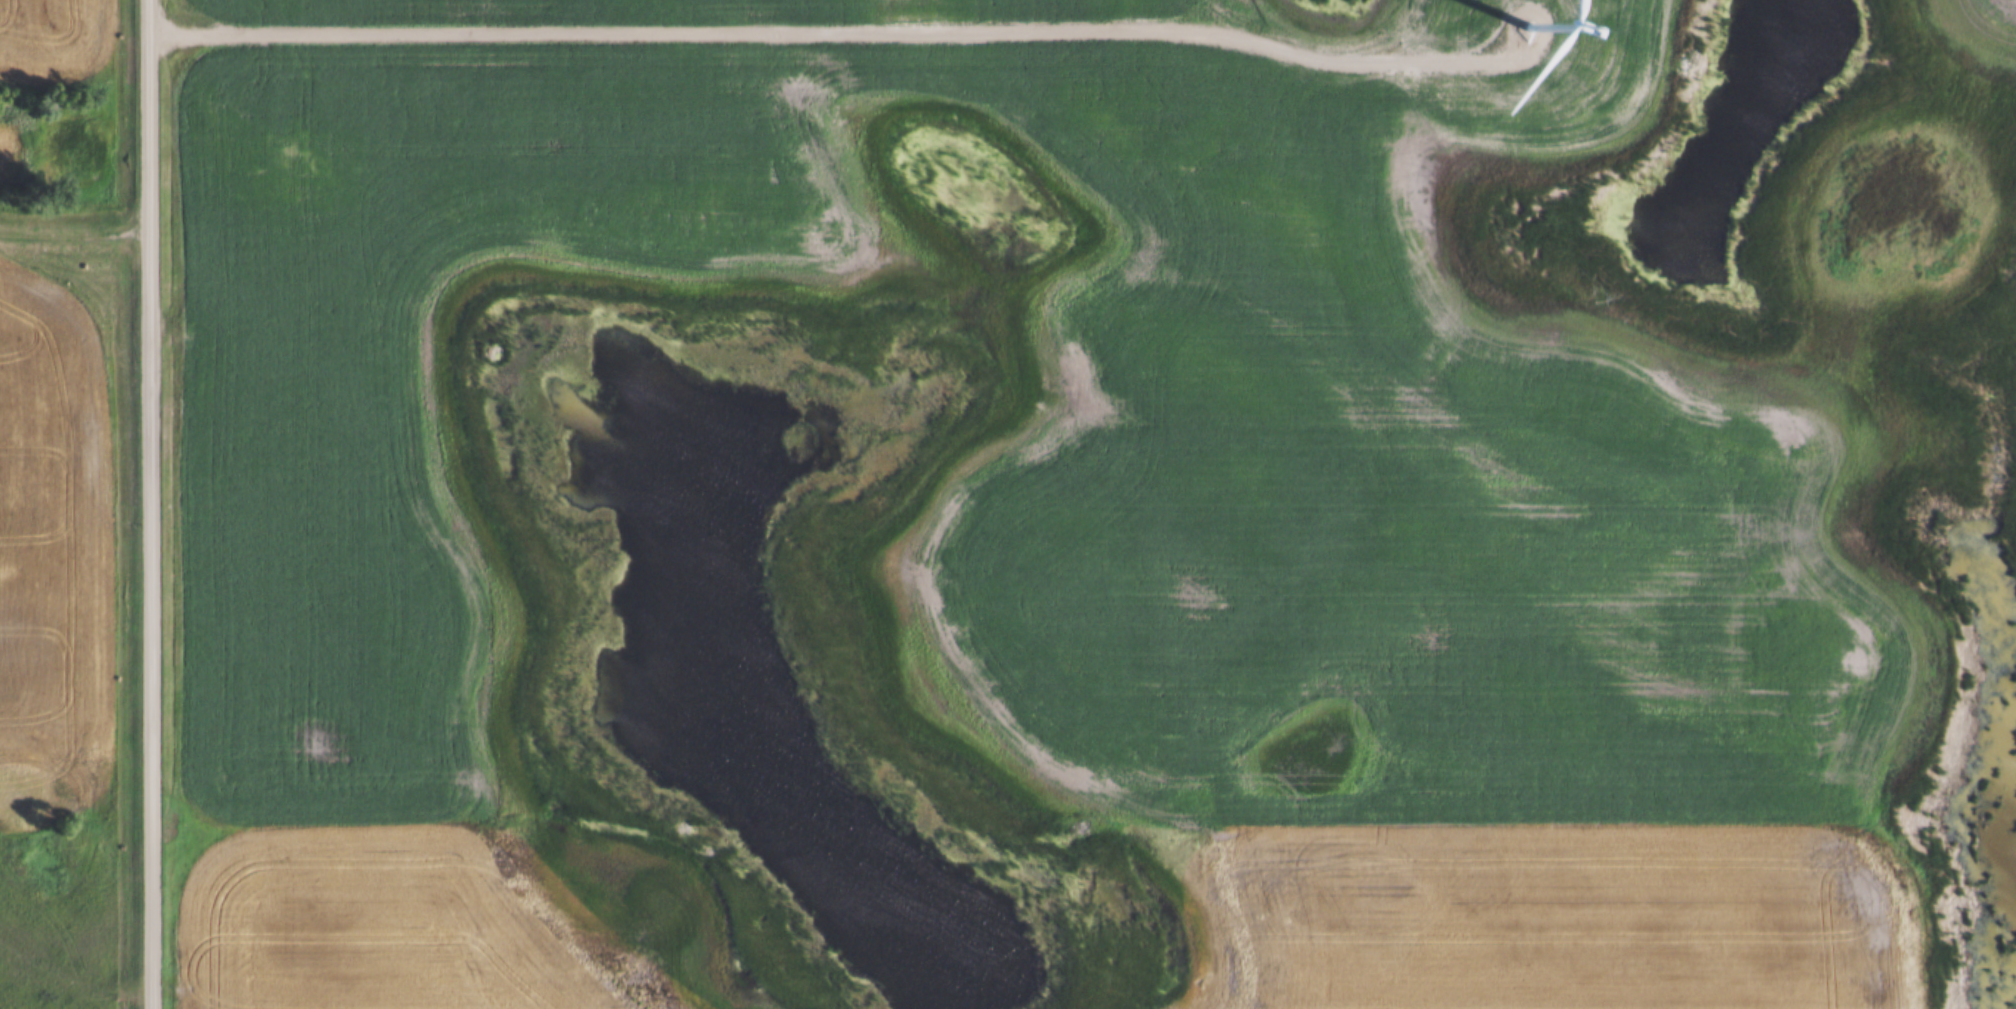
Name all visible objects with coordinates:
wind turbine: (1532, 31)
road: (76, 236)
road: (155, 504)

